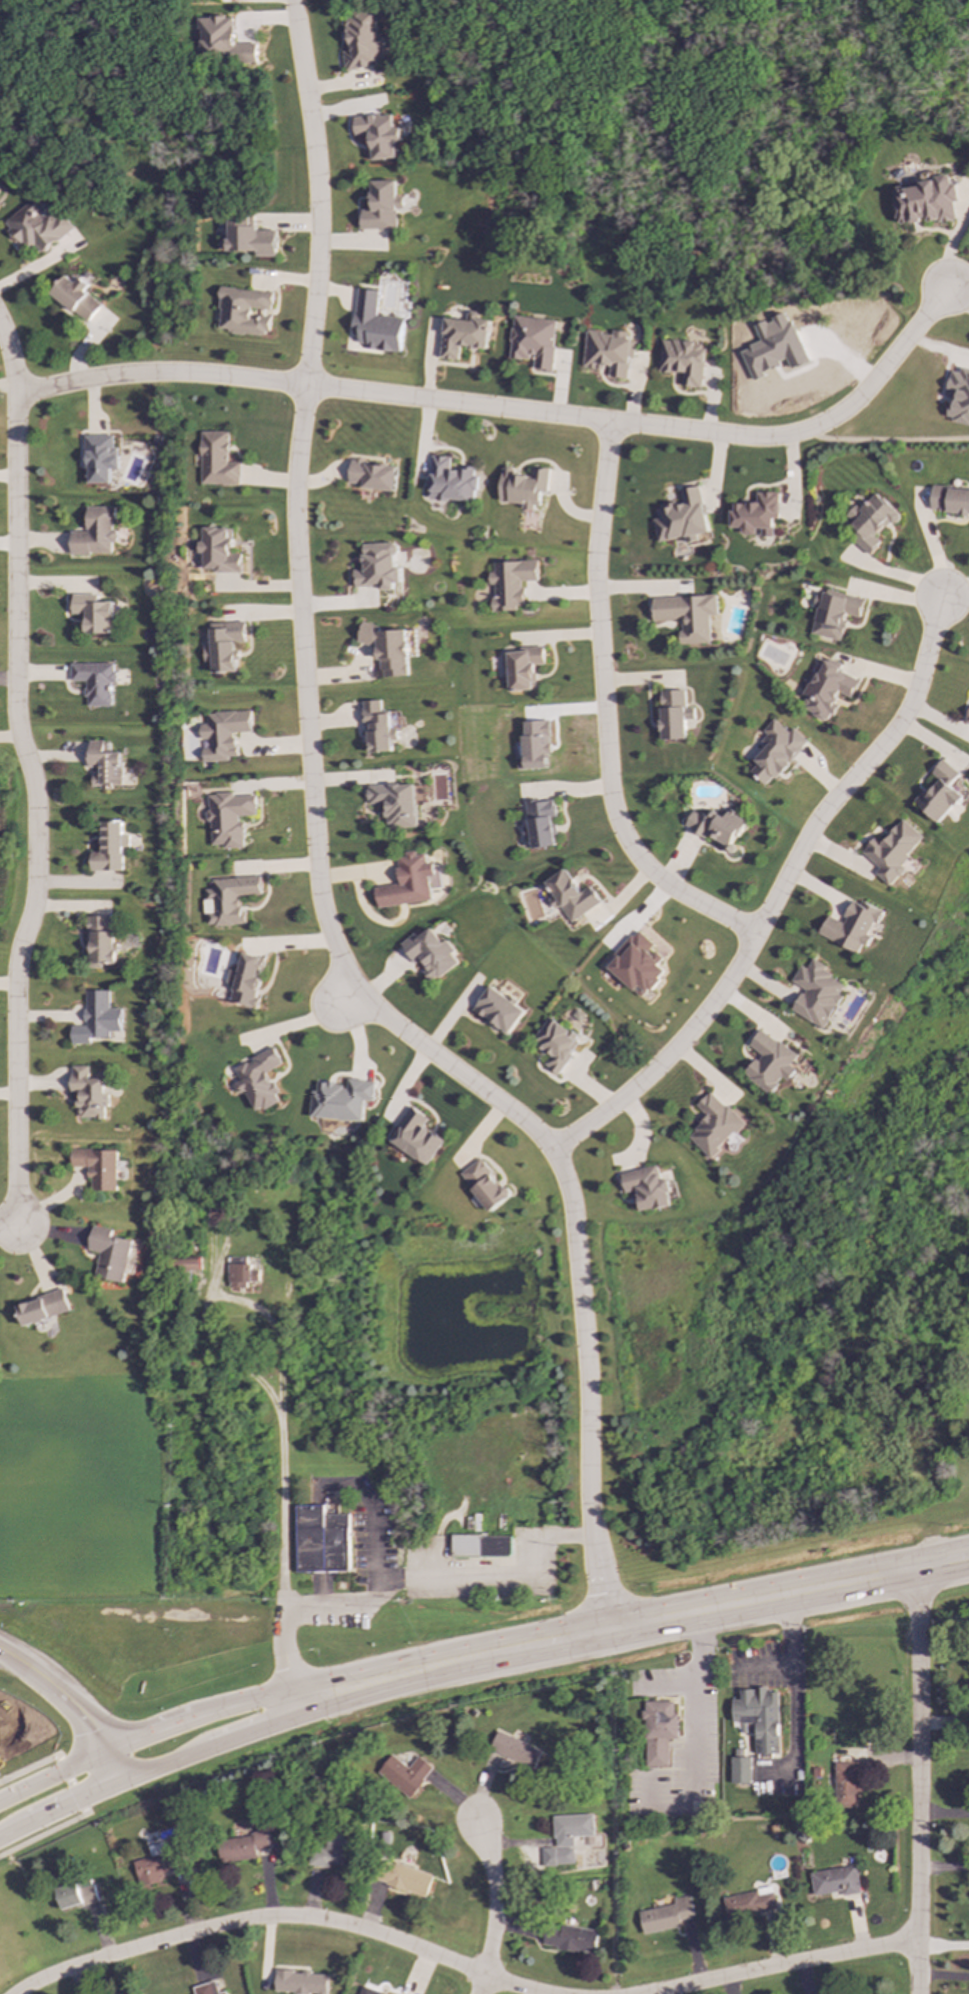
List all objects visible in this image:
building: (361, 39)
building: (222, 41)
building: (377, 135)
road: (160, 179)
road: (315, 193)
building: (925, 202)
building: (381, 207)
building: (36, 226)
building: (249, 238)
building: (75, 297)
building: (242, 311)
building: (375, 324)
building: (462, 335)
building: (532, 341)
building: (608, 352)
building: (683, 361)
building: (959, 396)
road: (509, 411)
road: (887, 440)
building: (98, 458)
building: (215, 460)
building: (371, 475)
building: (450, 481)
building: (523, 487)
building: (949, 500)
building: (756, 514)
building: (681, 517)
building: (869, 522)
building: (94, 533)
road: (933, 544)
building: (218, 550)
building: (378, 567)
road: (894, 573)
building: (509, 583)
road: (954, 591)
building: (93, 613)
building: (832, 613)
building: (686, 615)
building: (224, 646)
building: (387, 648)
building: (522, 668)
building: (93, 682)
road: (305, 688)
building: (825, 688)
road: (600, 715)
building: (671, 715)
building: (967, 718)
building: (378, 727)
building: (223, 734)
building: (533, 745)
building: (775, 752)
building: (103, 766)
road: (31, 777)
building: (940, 792)
building: (395, 803)
building: (229, 818)
building: (538, 823)
building: (716, 827)
building: (109, 848)
building: (892, 851)
building: (408, 882)
building: (569, 896)
road: (775, 896)
building: (228, 900)
building: (852, 926)
building: (99, 941)
building: (430, 953)
building: (636, 964)
building: (244, 980)
building: (817, 994)
road: (346, 995)
building: (498, 1010)
building: (97, 1018)
building: (554, 1043)
building: (770, 1062)
building: (257, 1080)
building: (88, 1093)
building: (341, 1100)
building: (714, 1125)
building: (416, 1136)
building: (97, 1167)
building: (484, 1185)
building: (647, 1188)
building: (217, 1216)
road: (14, 1223)
building: (110, 1254)
road: (577, 1258)
building: (188, 1264)
building: (241, 1275)
building: (44, 1308)
road: (281, 1411)
building: (321, 1540)
building: (480, 1546)
road: (940, 1563)
road: (490, 1576)
road: (368, 1594)
road: (655, 1618)
road: (765, 1665)
road: (669, 1687)
road: (698, 1693)
road: (796, 1696)
road: (68, 1708)
road: (194, 1717)
building: (759, 1717)
building: (658, 1732)
road: (198, 1749)
building: (515, 1750)
road: (28, 1769)
building: (740, 1770)
building: (405, 1774)
road: (920, 1781)
road: (72, 1784)
building: (846, 1784)
road: (944, 1813)
building: (571, 1829)
road: (43, 1834)
building: (240, 1847)
building: (330, 1851)
building: (557, 1857)
building: (154, 1865)
road: (944, 1868)
building: (404, 1878)
building: (835, 1881)
building: (76, 1895)
road: (493, 1896)
building: (749, 1903)
building: (666, 1916)
road: (275, 1919)
road: (943, 1946)
road: (785, 1965)
road: (943, 1977)
building: (299, 1982)
road: (479, 1985)
building: (205, 1989)
building: (367, 1991)
building: (222, 1993)

